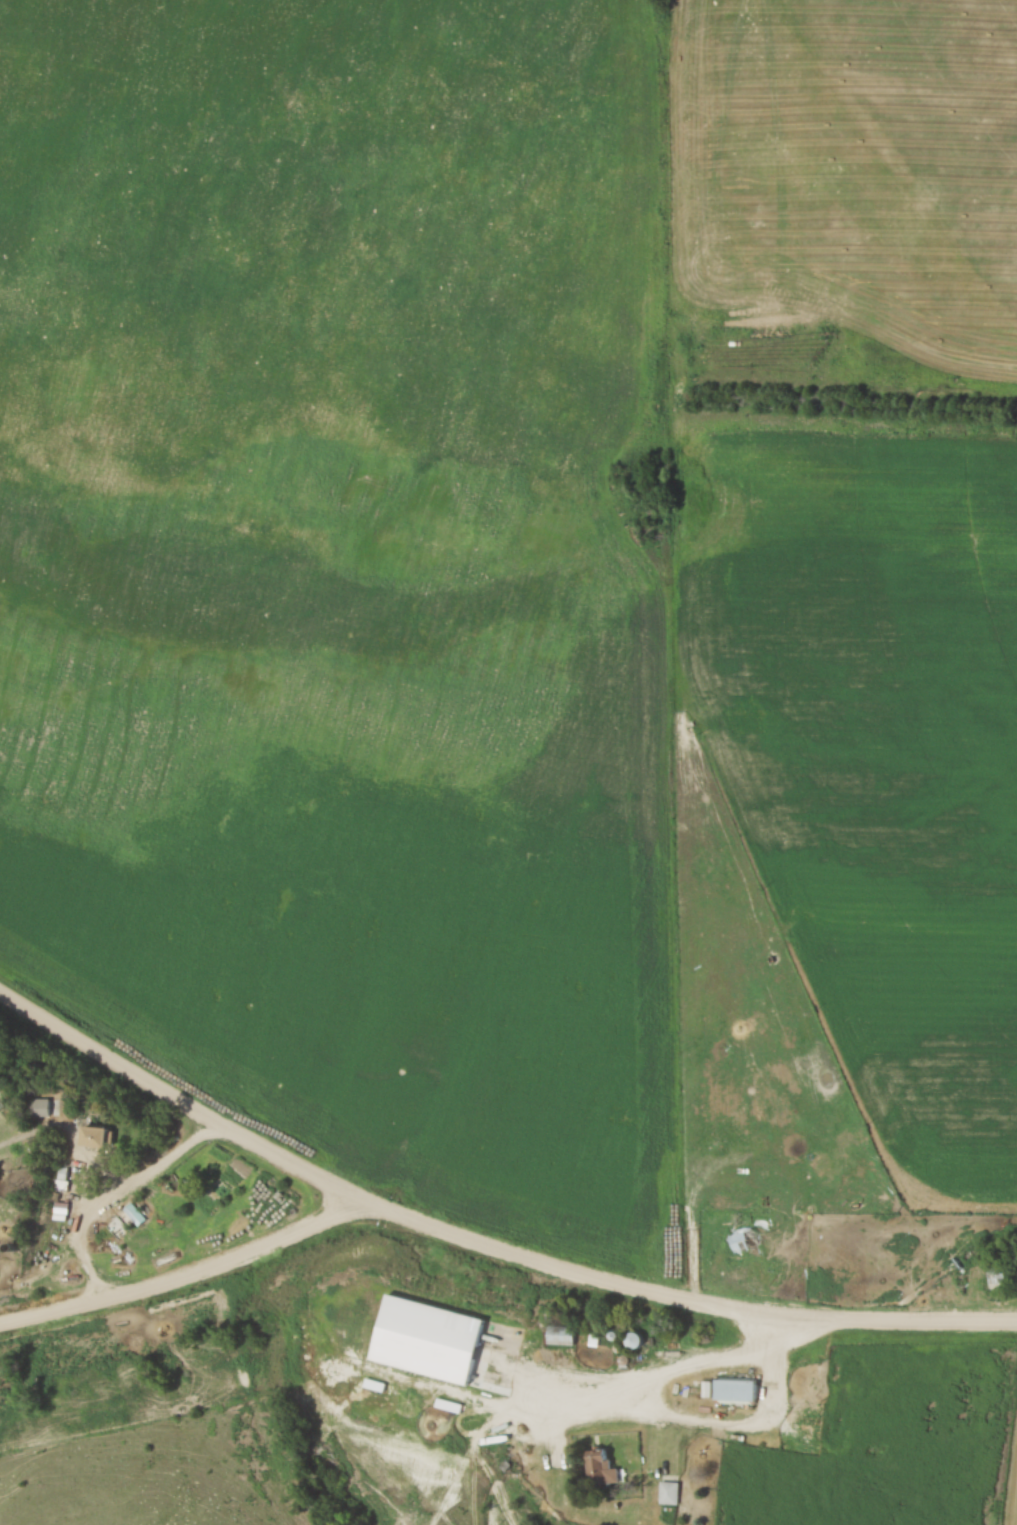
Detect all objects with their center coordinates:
building: (46, 1108)
building: (102, 1137)
road: (120, 1196)
building: (133, 1217)
building: (116, 1227)
building: (6, 1238)
building: (745, 1240)
road: (481, 1247)
building: (1005, 1277)
road: (184, 1279)
building: (470, 1310)
building: (565, 1335)
building: (853, 1353)
road: (680, 1361)
building: (825, 1381)
building: (740, 1391)
building: (474, 1405)
building: (601, 1471)
building: (670, 1494)

